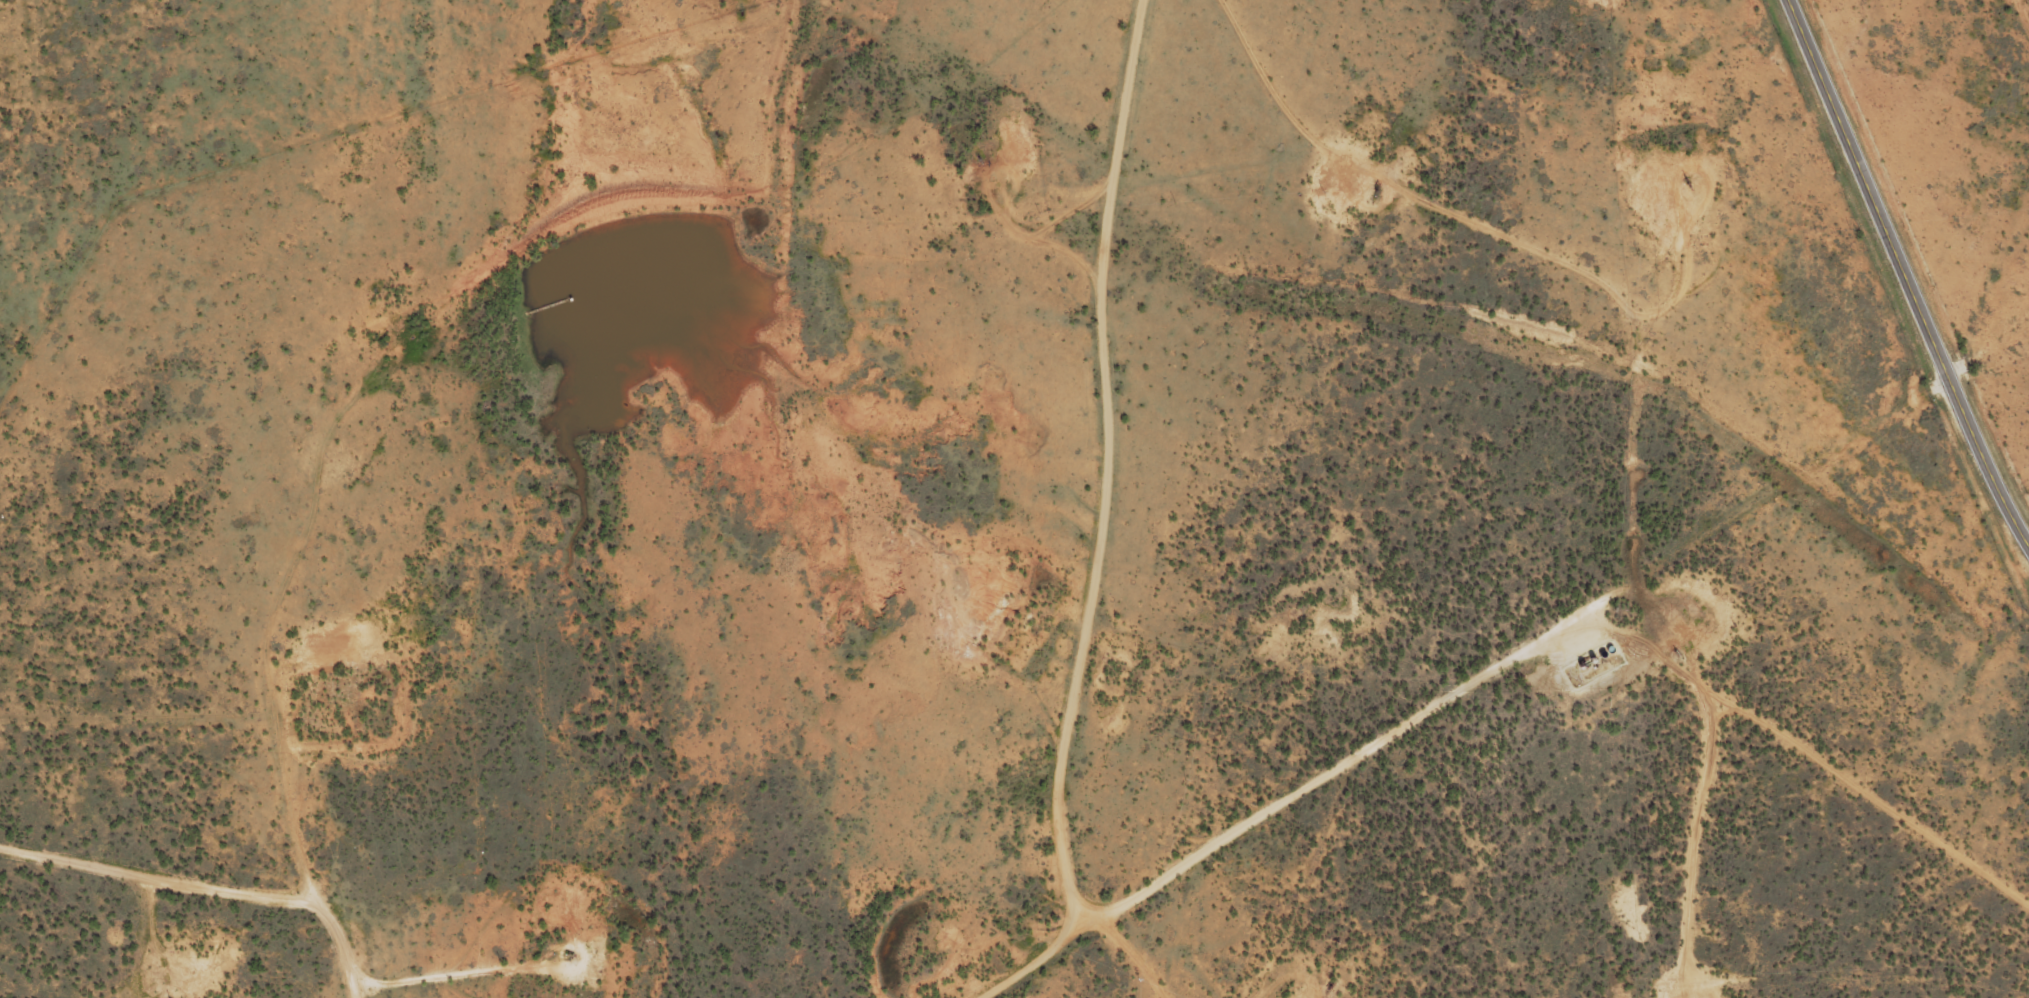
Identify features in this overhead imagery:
road: (1905, 272)
road: (325, 498)
road: (1156, 508)
road: (1625, 577)
road: (140, 727)
road: (1197, 864)

